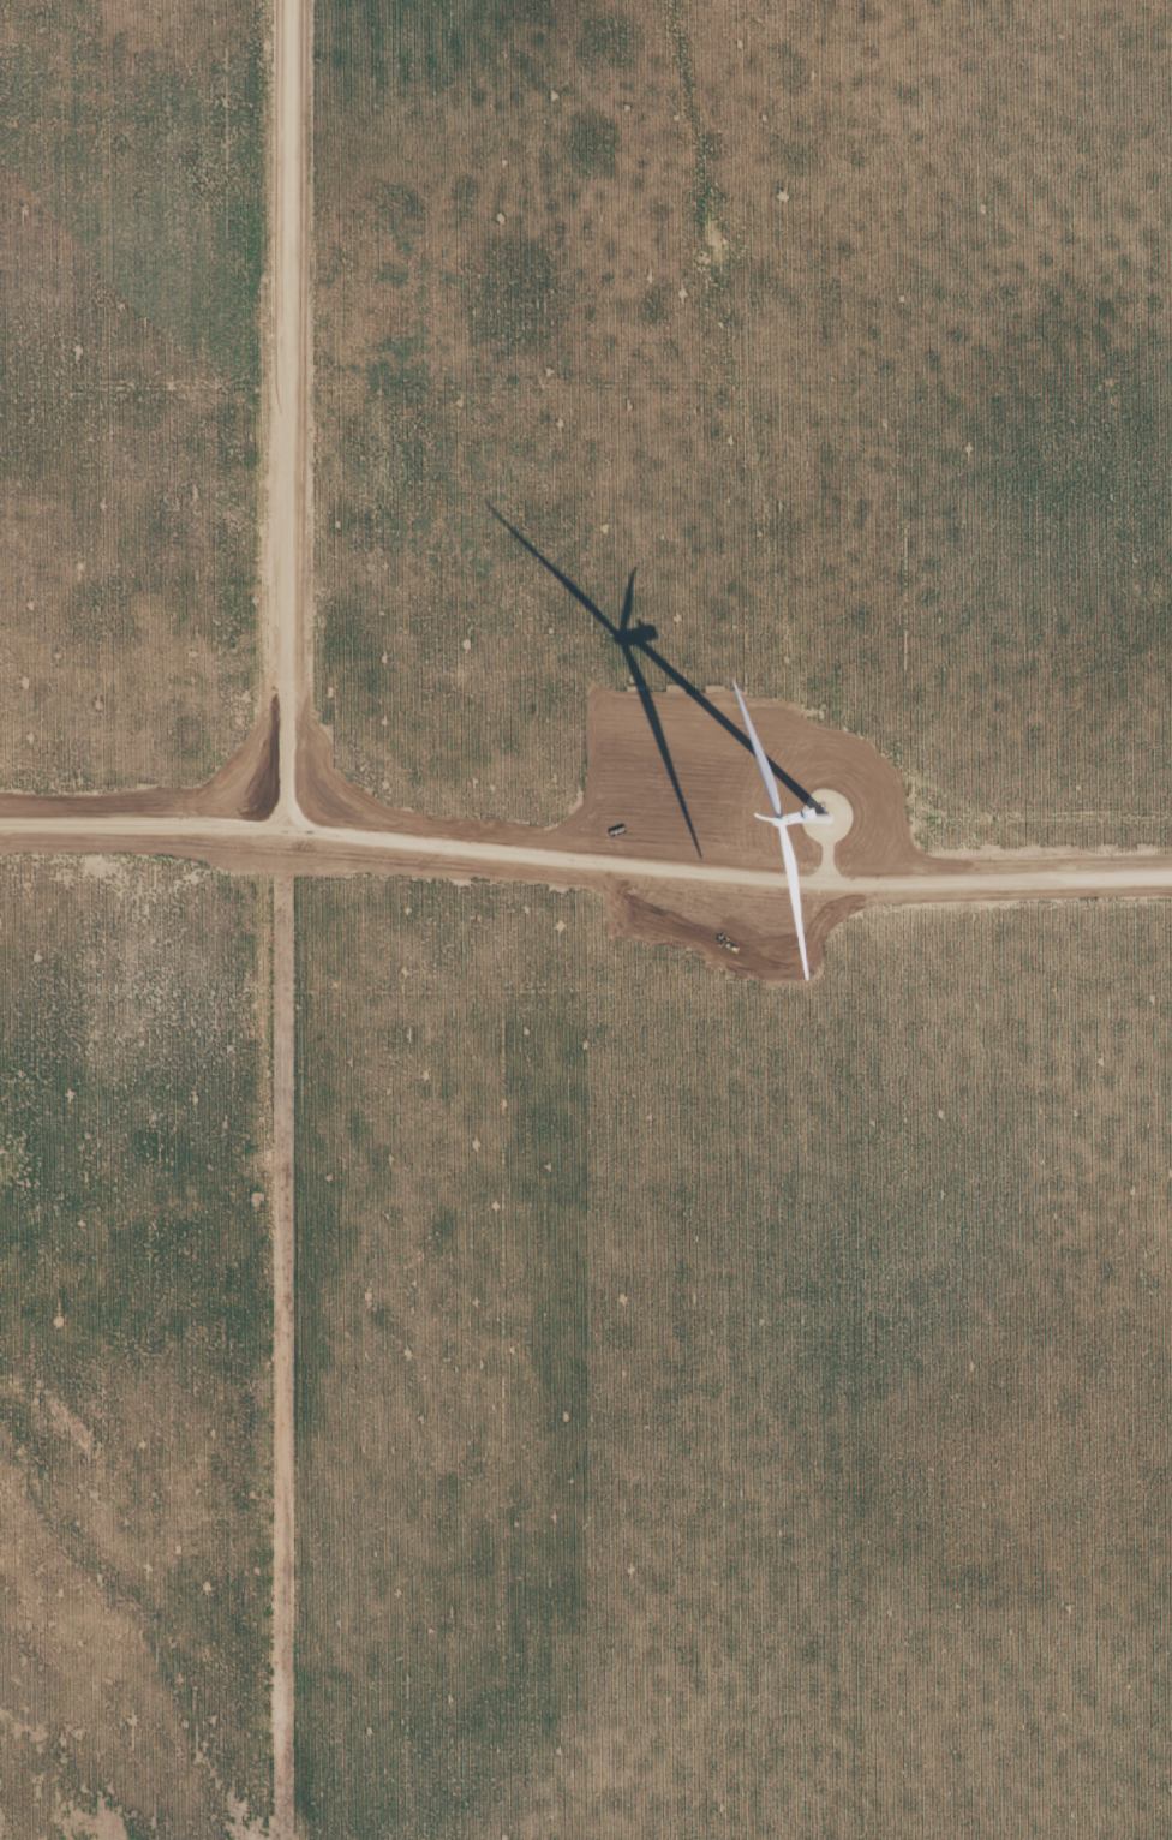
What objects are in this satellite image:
wind turbine: (829, 800)
road: (222, 920)
road: (109, 1105)

